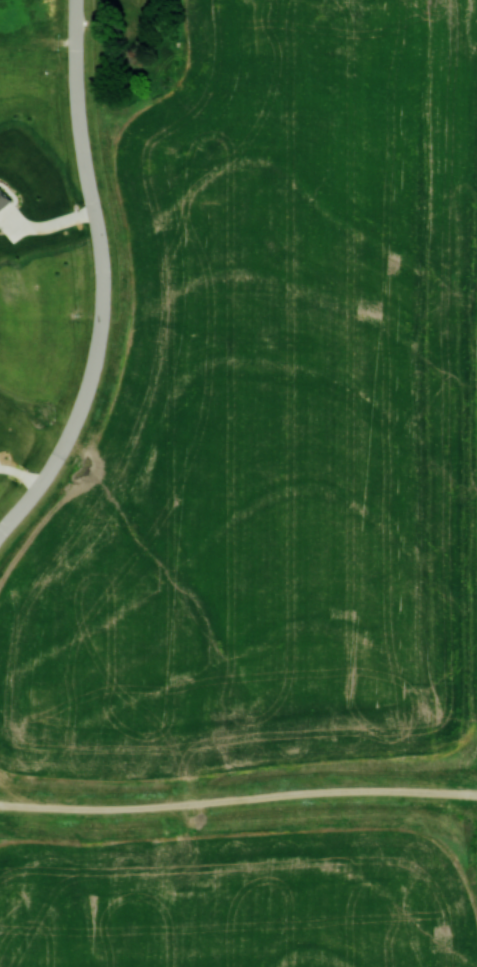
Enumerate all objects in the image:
park: (38, 42)
road: (76, 42)
road: (98, 320)
road: (238, 797)

